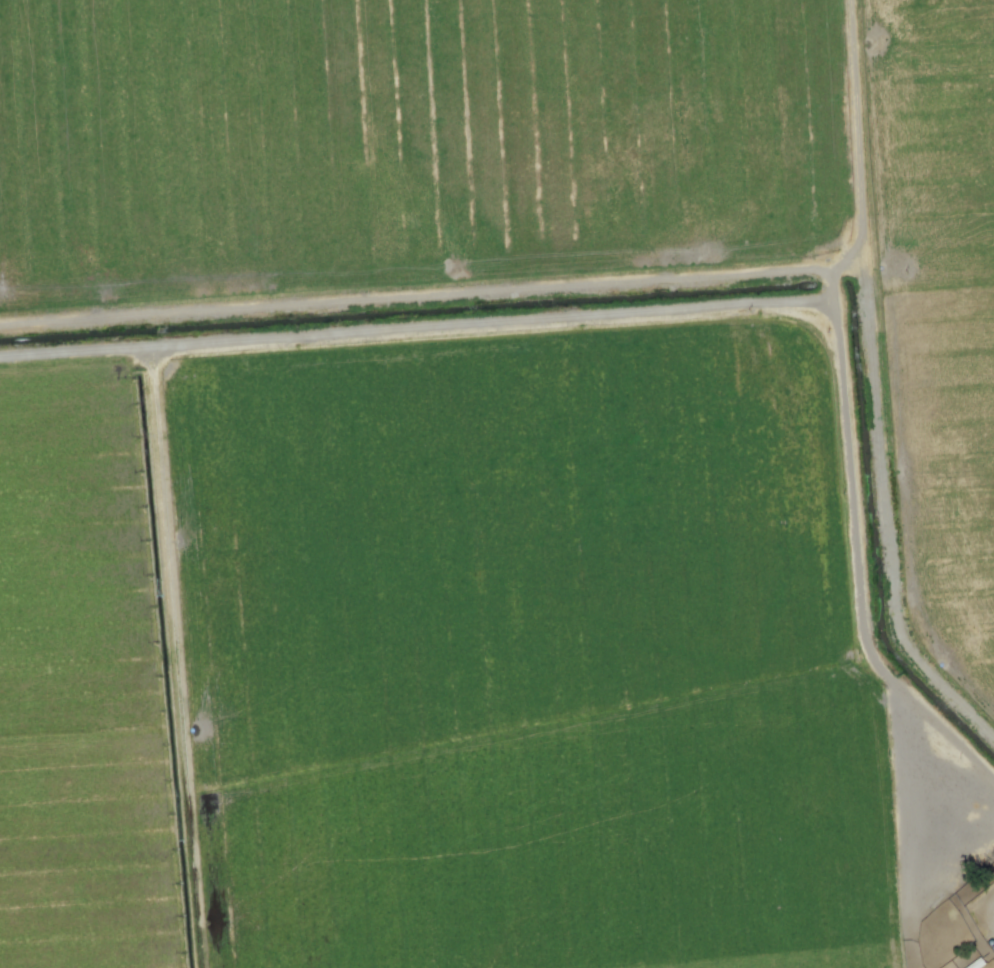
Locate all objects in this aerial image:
building: (978, 964)

